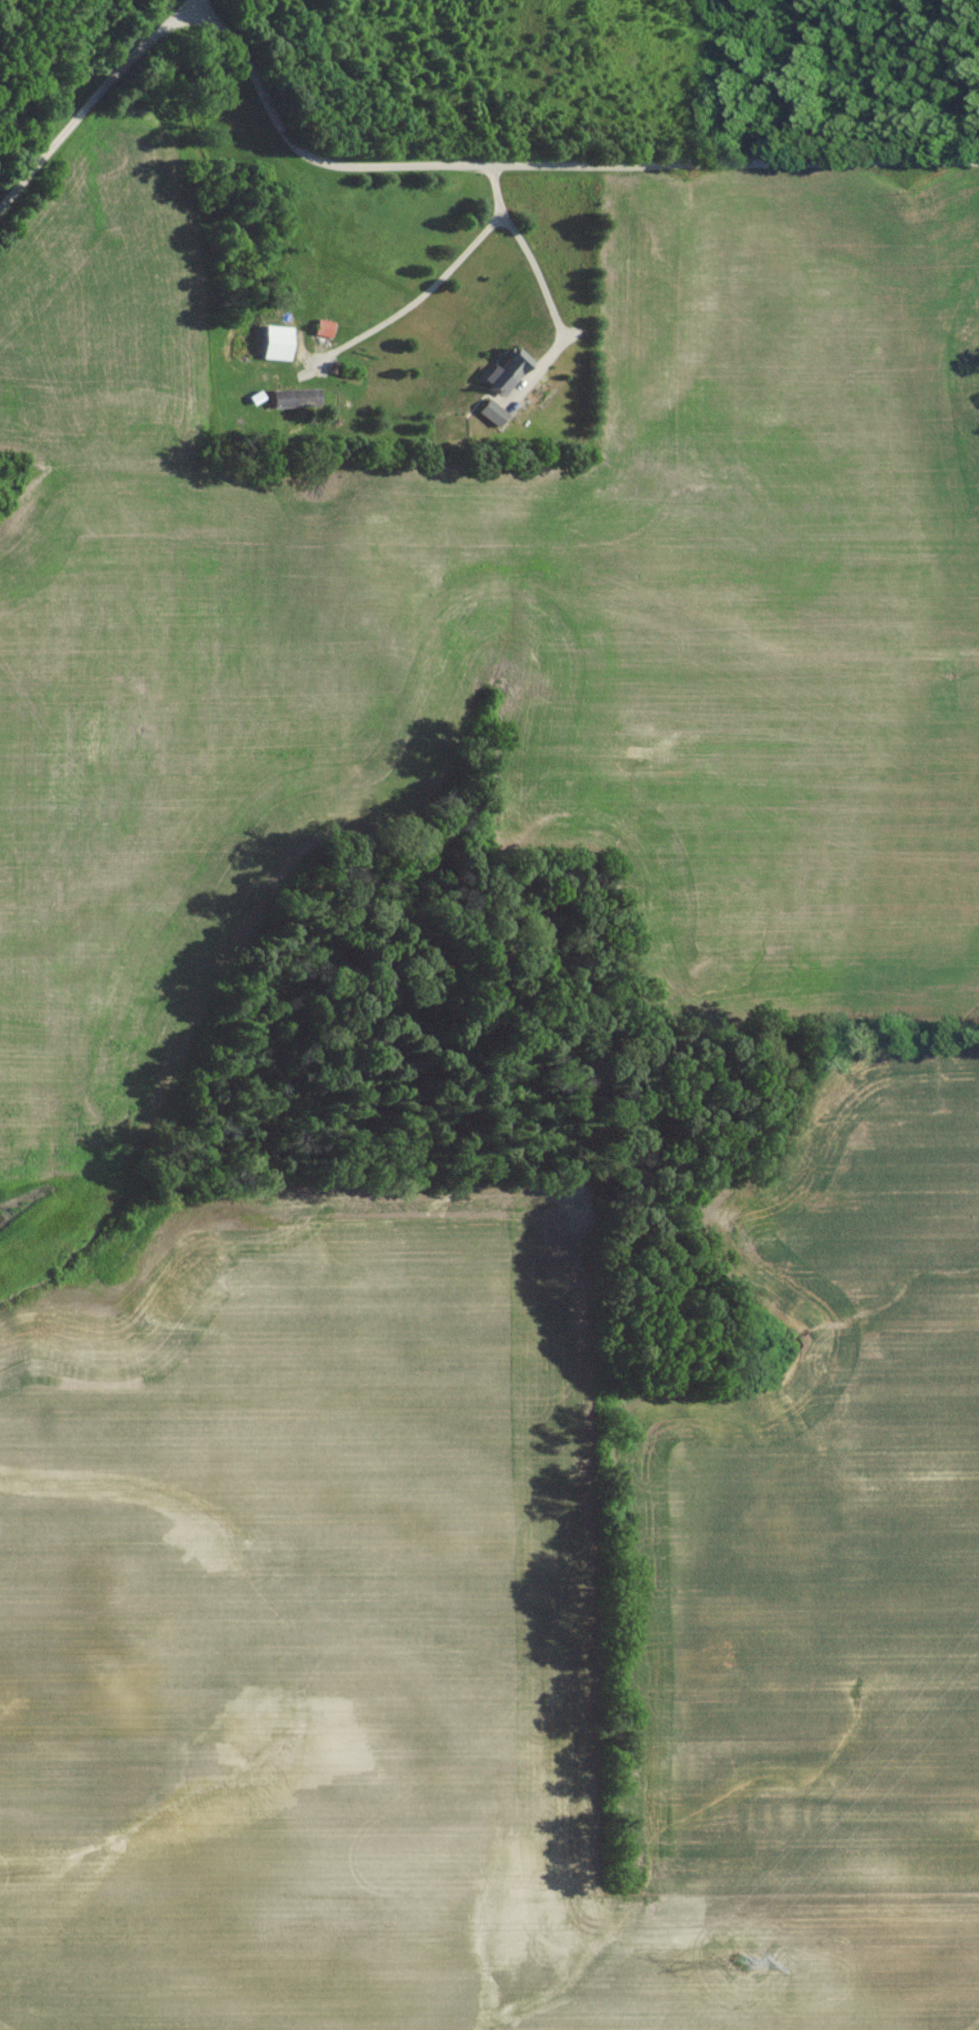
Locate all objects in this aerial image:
road: (94, 104)
road: (545, 172)
road: (535, 271)
road: (417, 302)
building: (317, 334)
building: (493, 391)
building: (484, 418)
road: (209, 1636)
power tower: (734, 1968)

